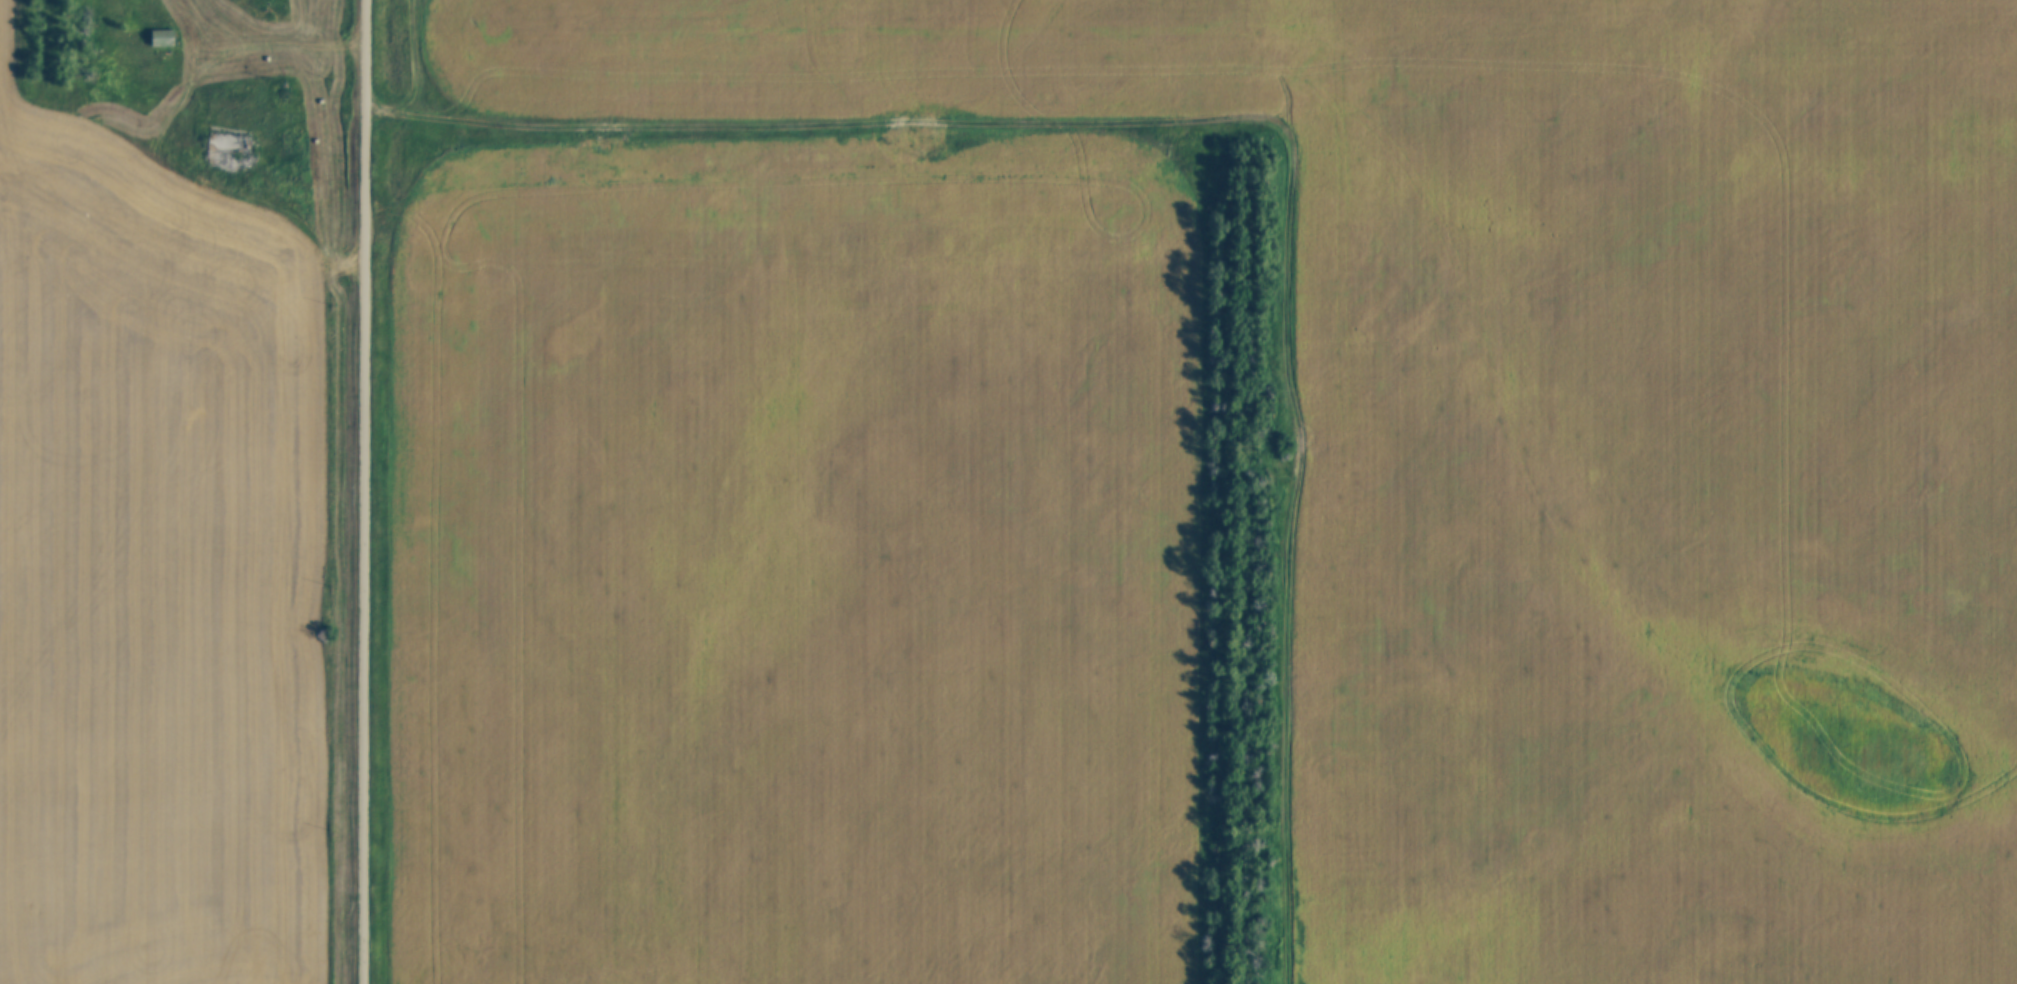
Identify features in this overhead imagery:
road: (162, 113)
building: (235, 149)
road: (365, 492)

